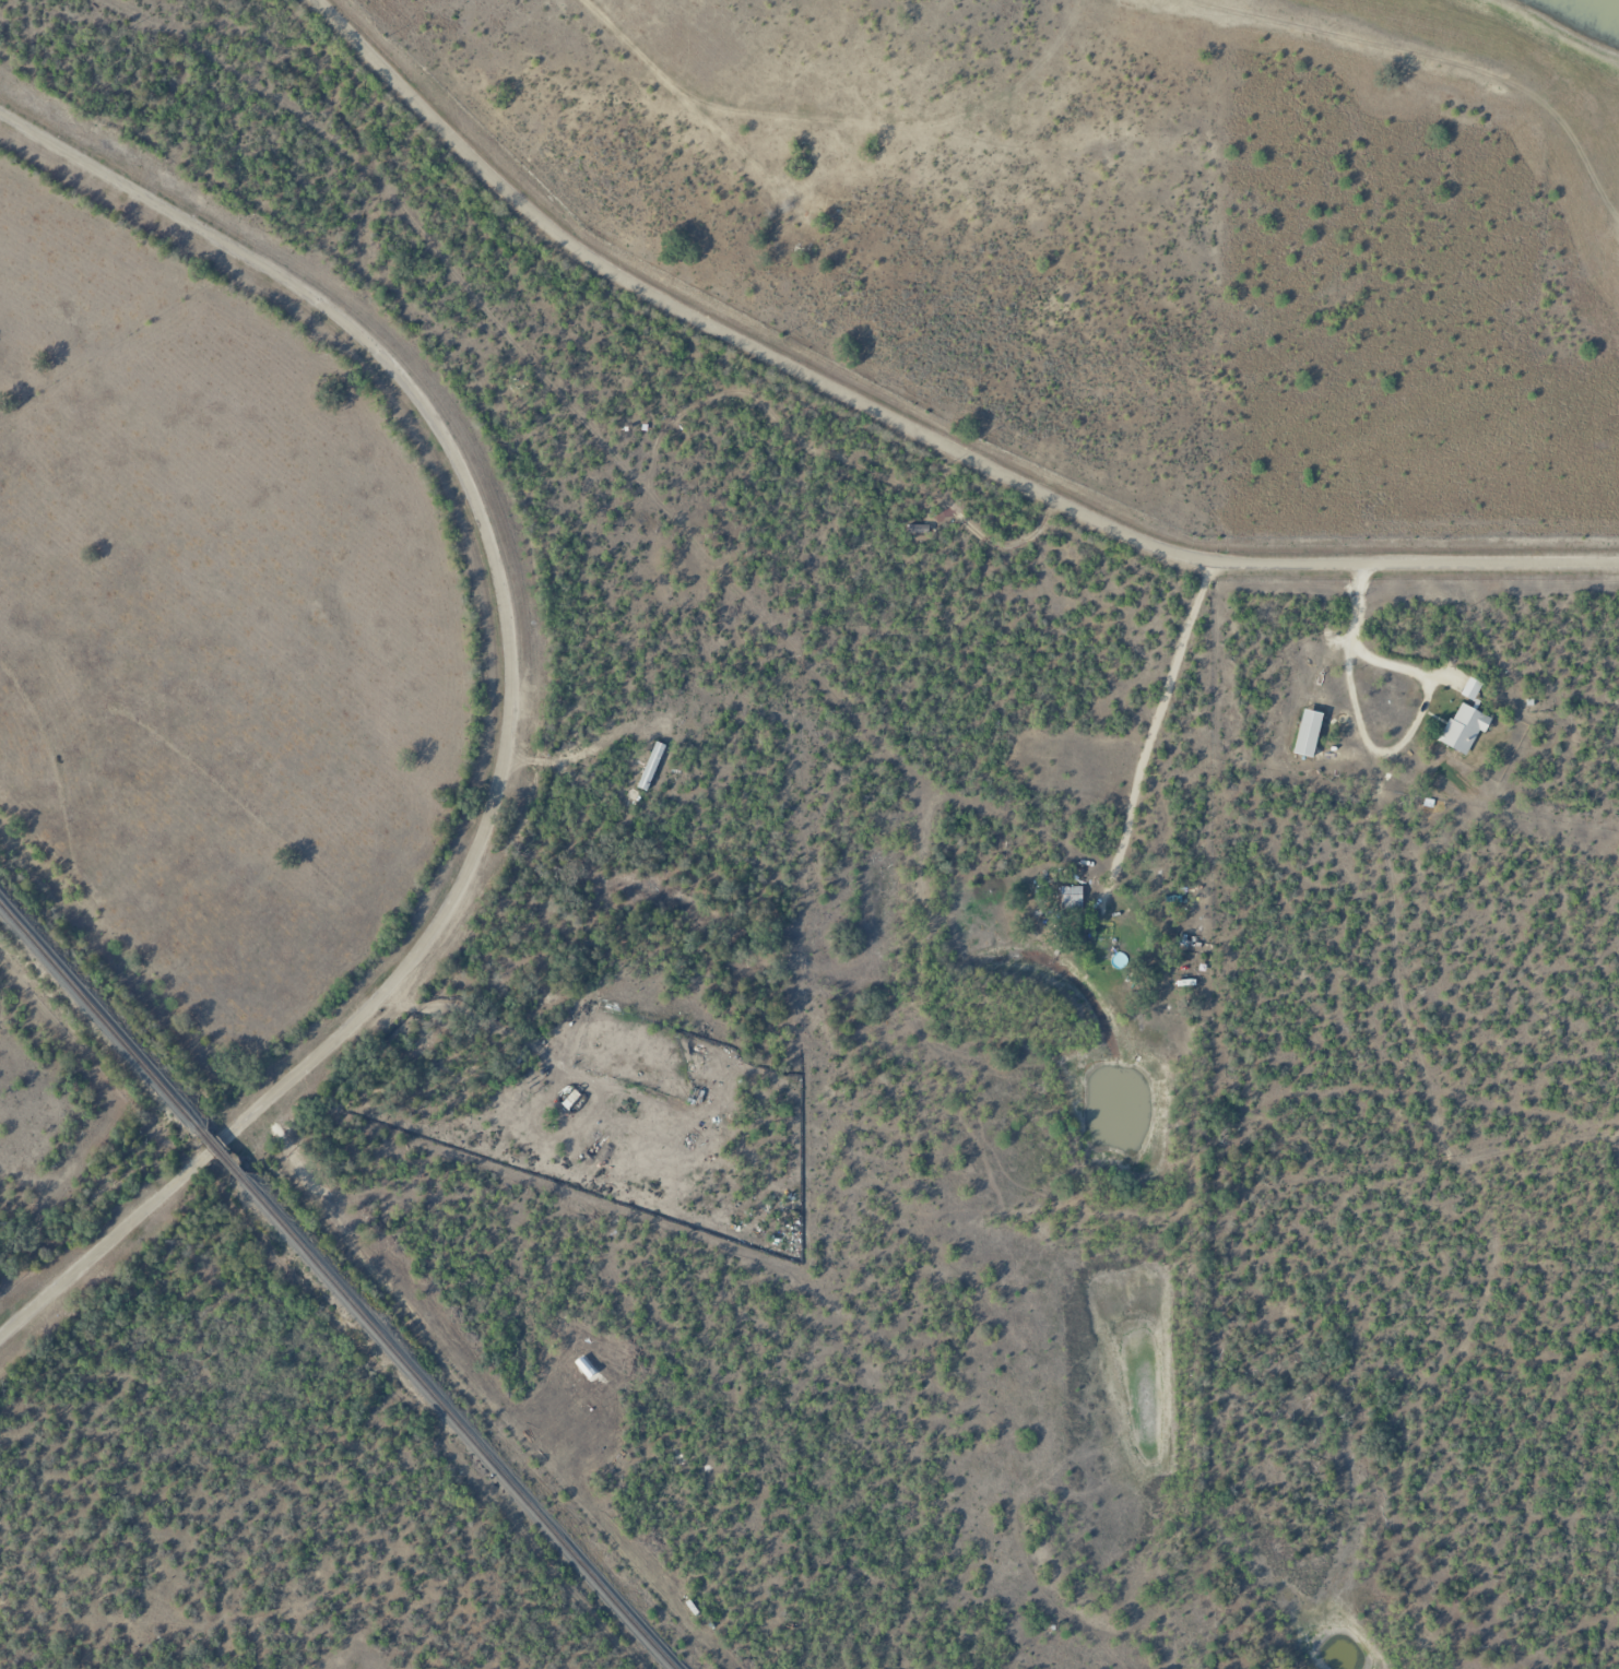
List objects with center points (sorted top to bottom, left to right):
dam: (1614, 225)
building: (795, 236)
road: (909, 426)
road: (505, 606)
road: (1236, 667)
building: (1473, 687)
building: (1464, 725)
building: (1310, 732)
building: (1072, 897)
railway: (101, 1008)
railway: (225, 1153)
road: (74, 1271)
railway: (462, 1425)

